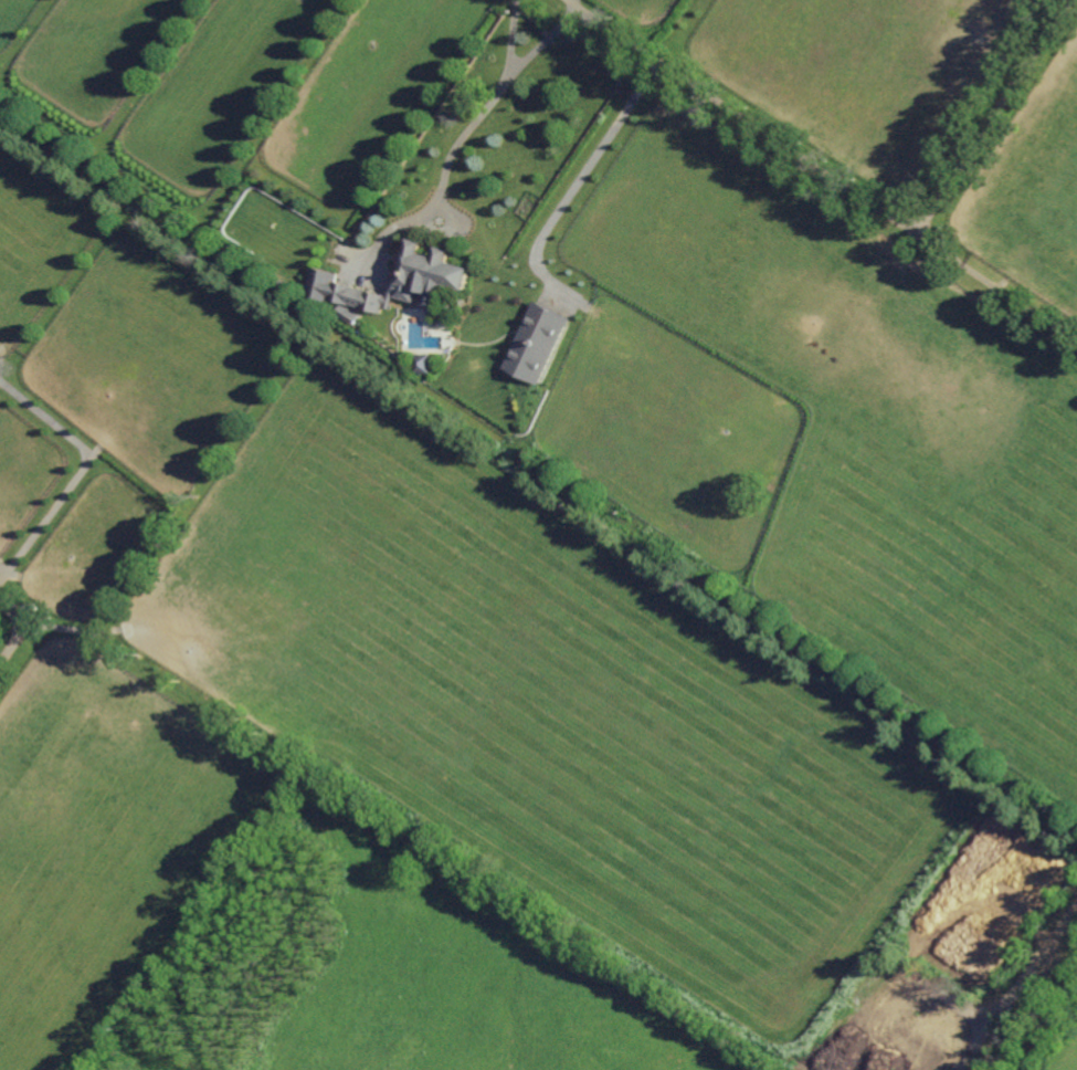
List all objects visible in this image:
road: (581, 178)
road: (860, 191)
building: (430, 274)
road: (995, 287)
building: (368, 300)
building: (444, 323)
building: (538, 342)
building: (423, 363)
road: (21, 627)

